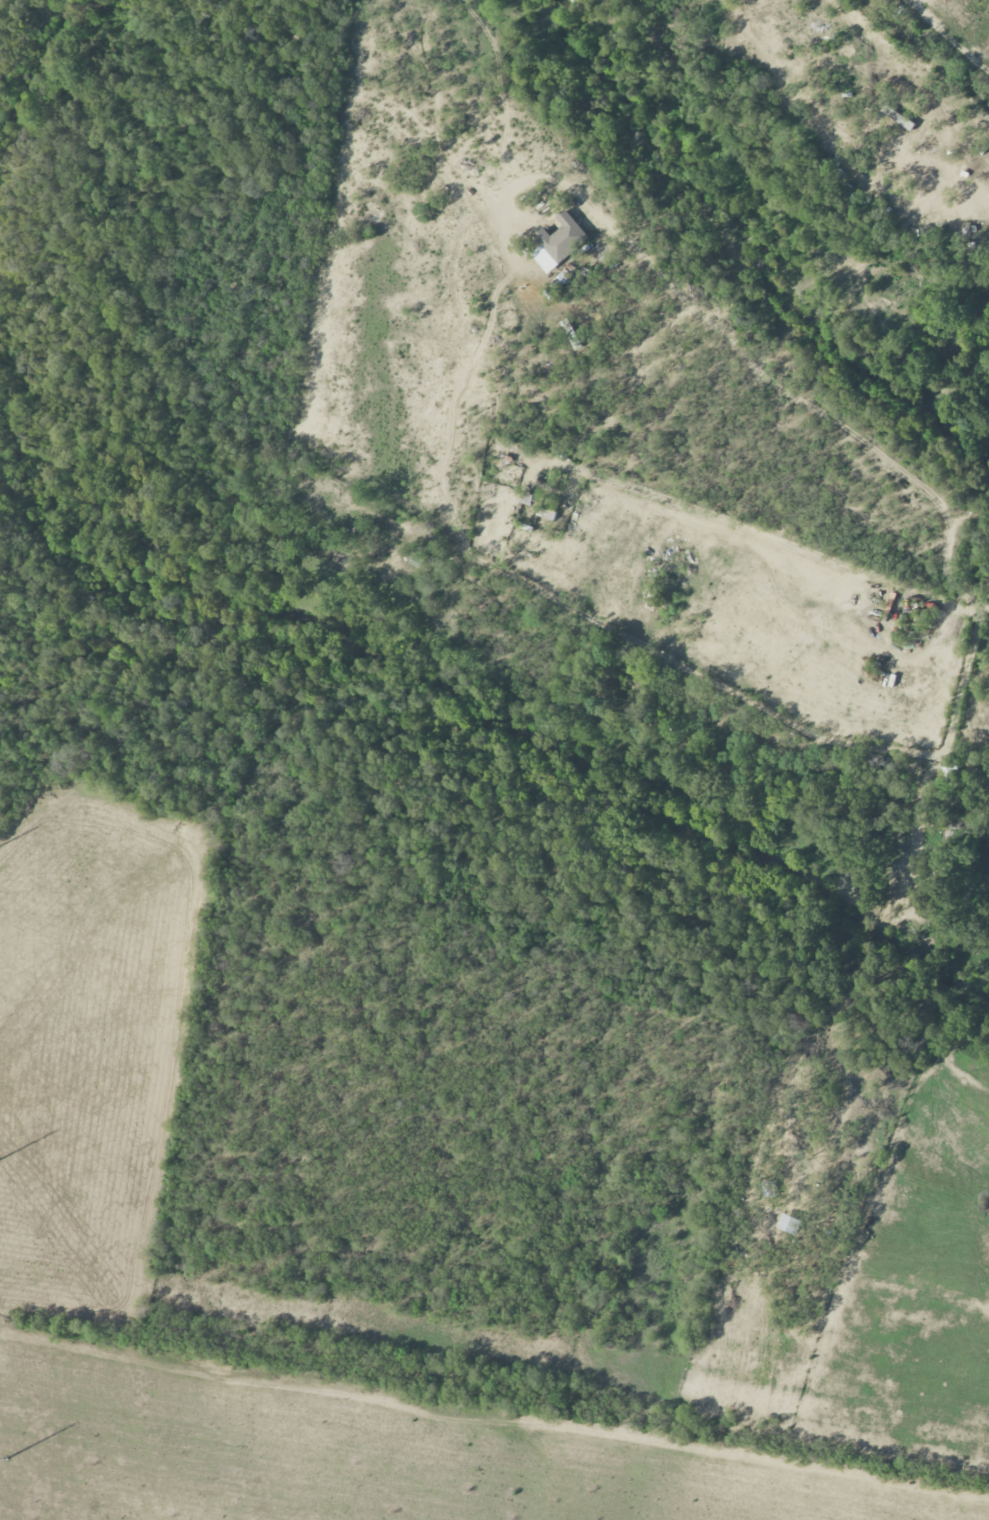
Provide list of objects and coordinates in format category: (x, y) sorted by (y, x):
building: (564, 237)
road: (777, 545)
road: (983, 610)
road: (625, 635)
building: (790, 1223)
power tower: (8, 1458)

